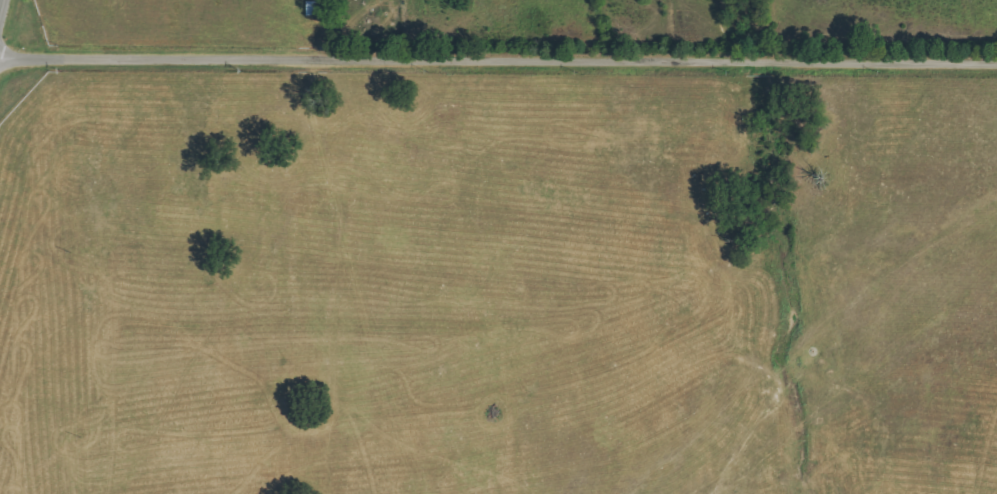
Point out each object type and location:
road: (498, 60)

